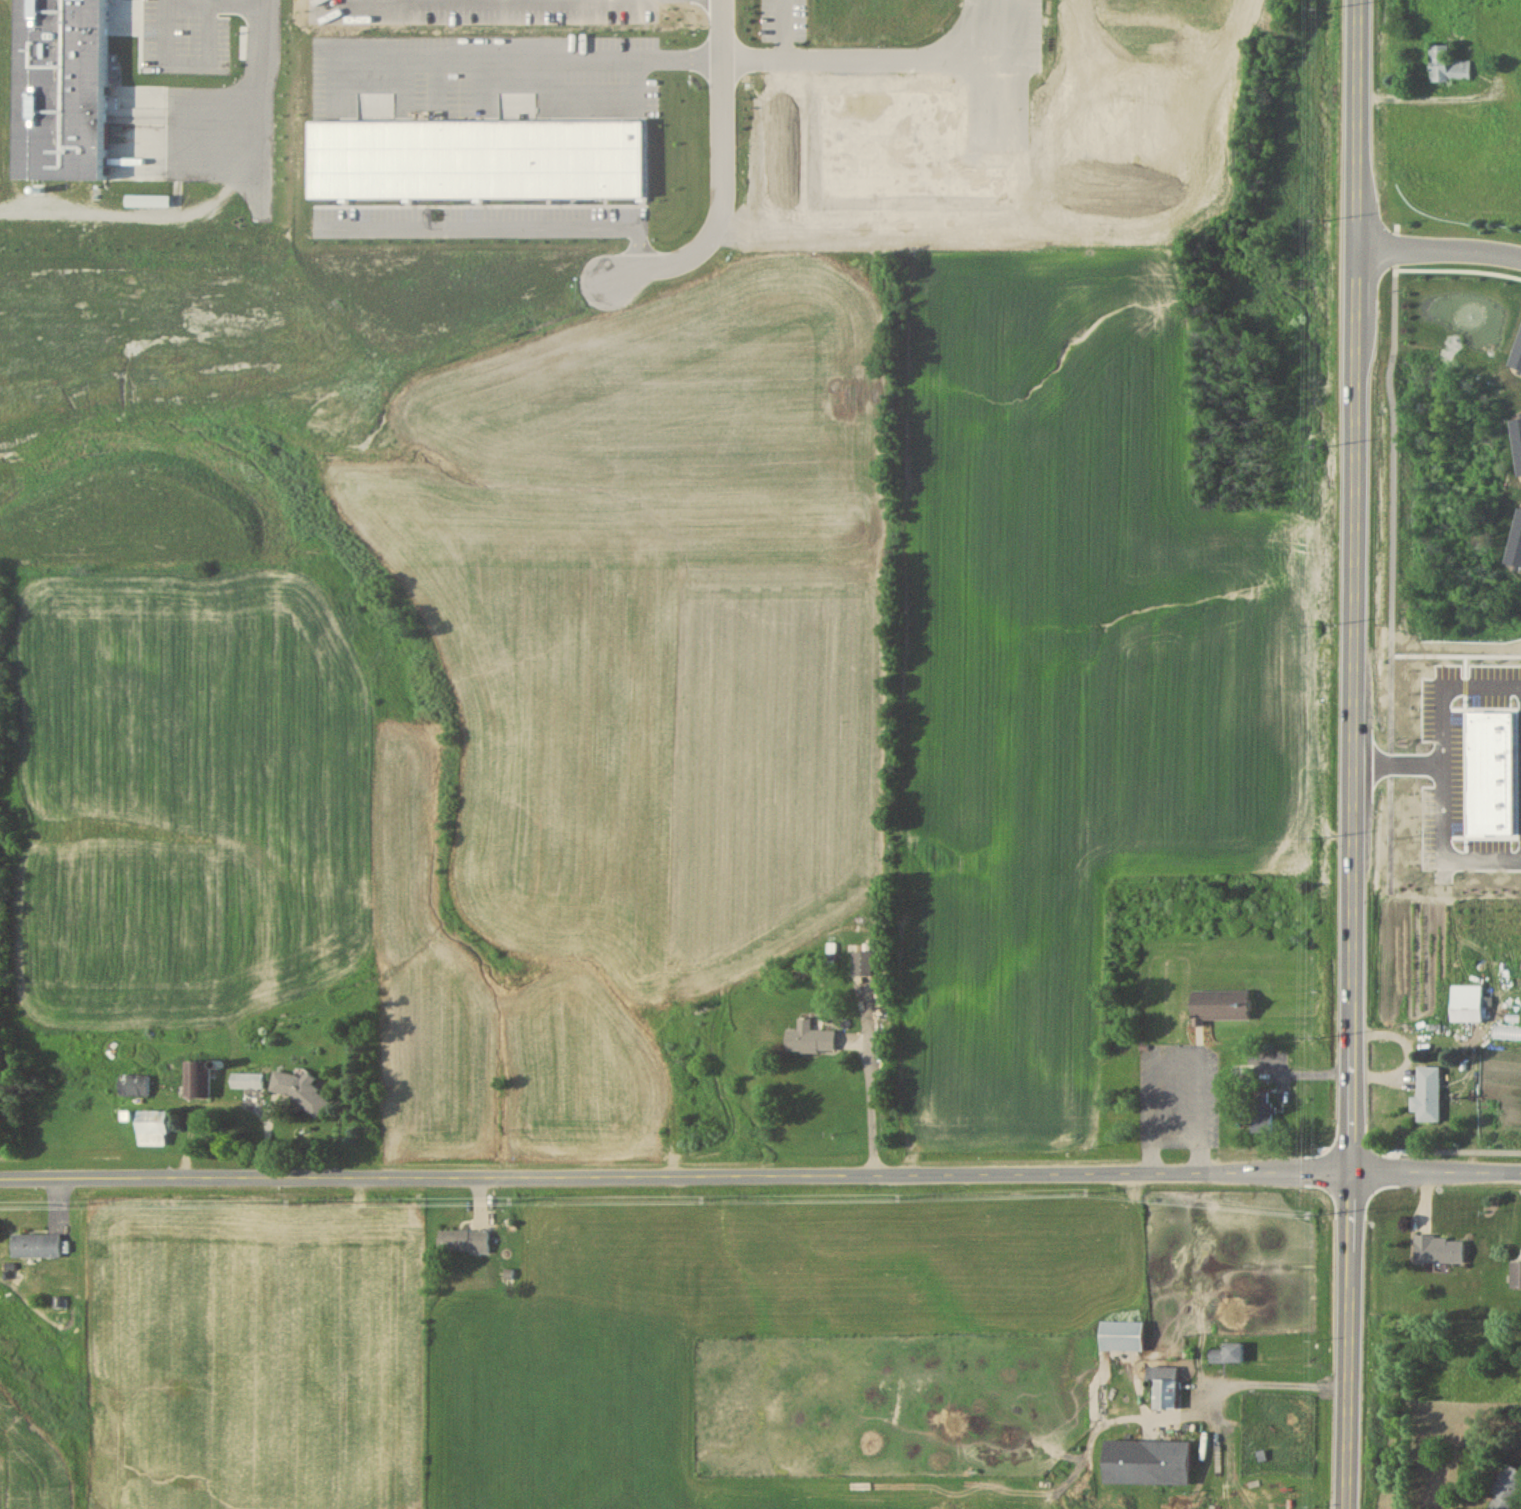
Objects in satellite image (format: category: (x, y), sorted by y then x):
road: (217, 5)
road: (779, 27)
road: (889, 54)
building: (1447, 65)
road: (214, 66)
road: (539, 69)
road: (262, 88)
road: (725, 183)
road: (129, 216)
road: (502, 230)
road: (1439, 253)
road: (1446, 718)
road: (1352, 754)
road: (1450, 824)
building: (861, 963)
building: (1465, 1003)
building: (1219, 1005)
building: (808, 1038)
road: (1180, 1046)
building: (197, 1079)
building: (247, 1080)
building: (134, 1085)
building: (296, 1089)
building: (1426, 1095)
road: (867, 1104)
building: (1262, 1112)
building: (151, 1128)
road: (1436, 1149)
road: (760, 1169)
building: (463, 1241)
building: (35, 1245)
building: (1438, 1249)
building: (1516, 1275)
building: (1121, 1336)
building: (1225, 1354)
road: (1266, 1386)
building: (1164, 1388)
building: (1146, 1462)
building: (1506, 1490)

